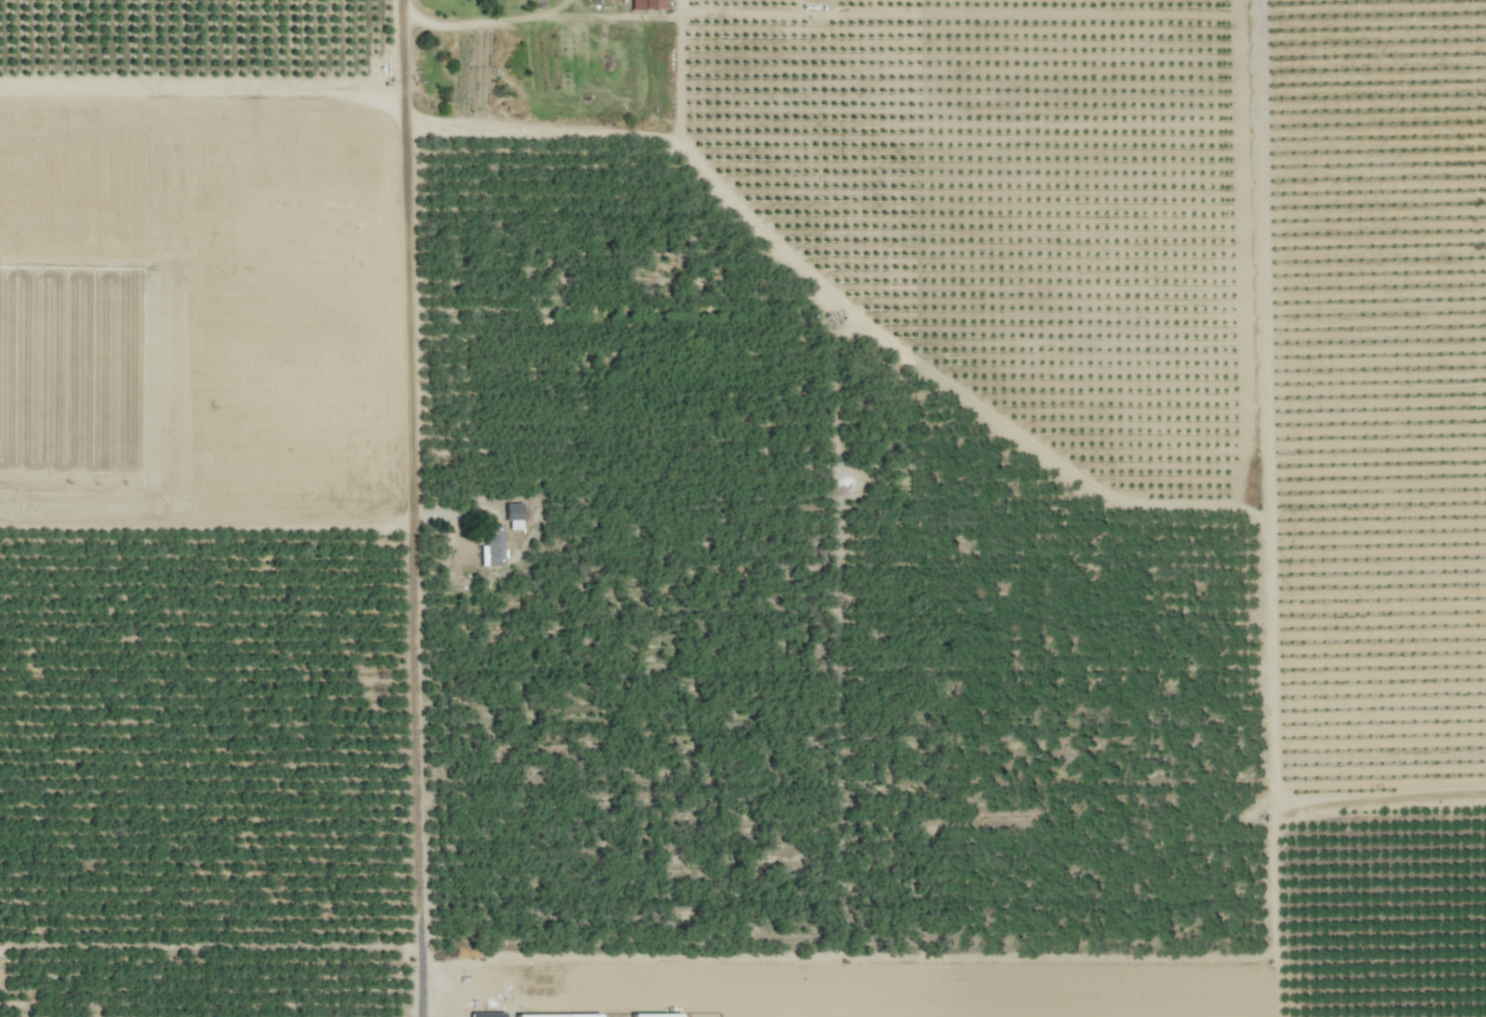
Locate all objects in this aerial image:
building: (648, 4)
road: (489, 21)
road: (203, 84)
road: (408, 256)
road: (1029, 443)
road: (414, 764)
building: (487, 1014)
building: (657, 1015)

